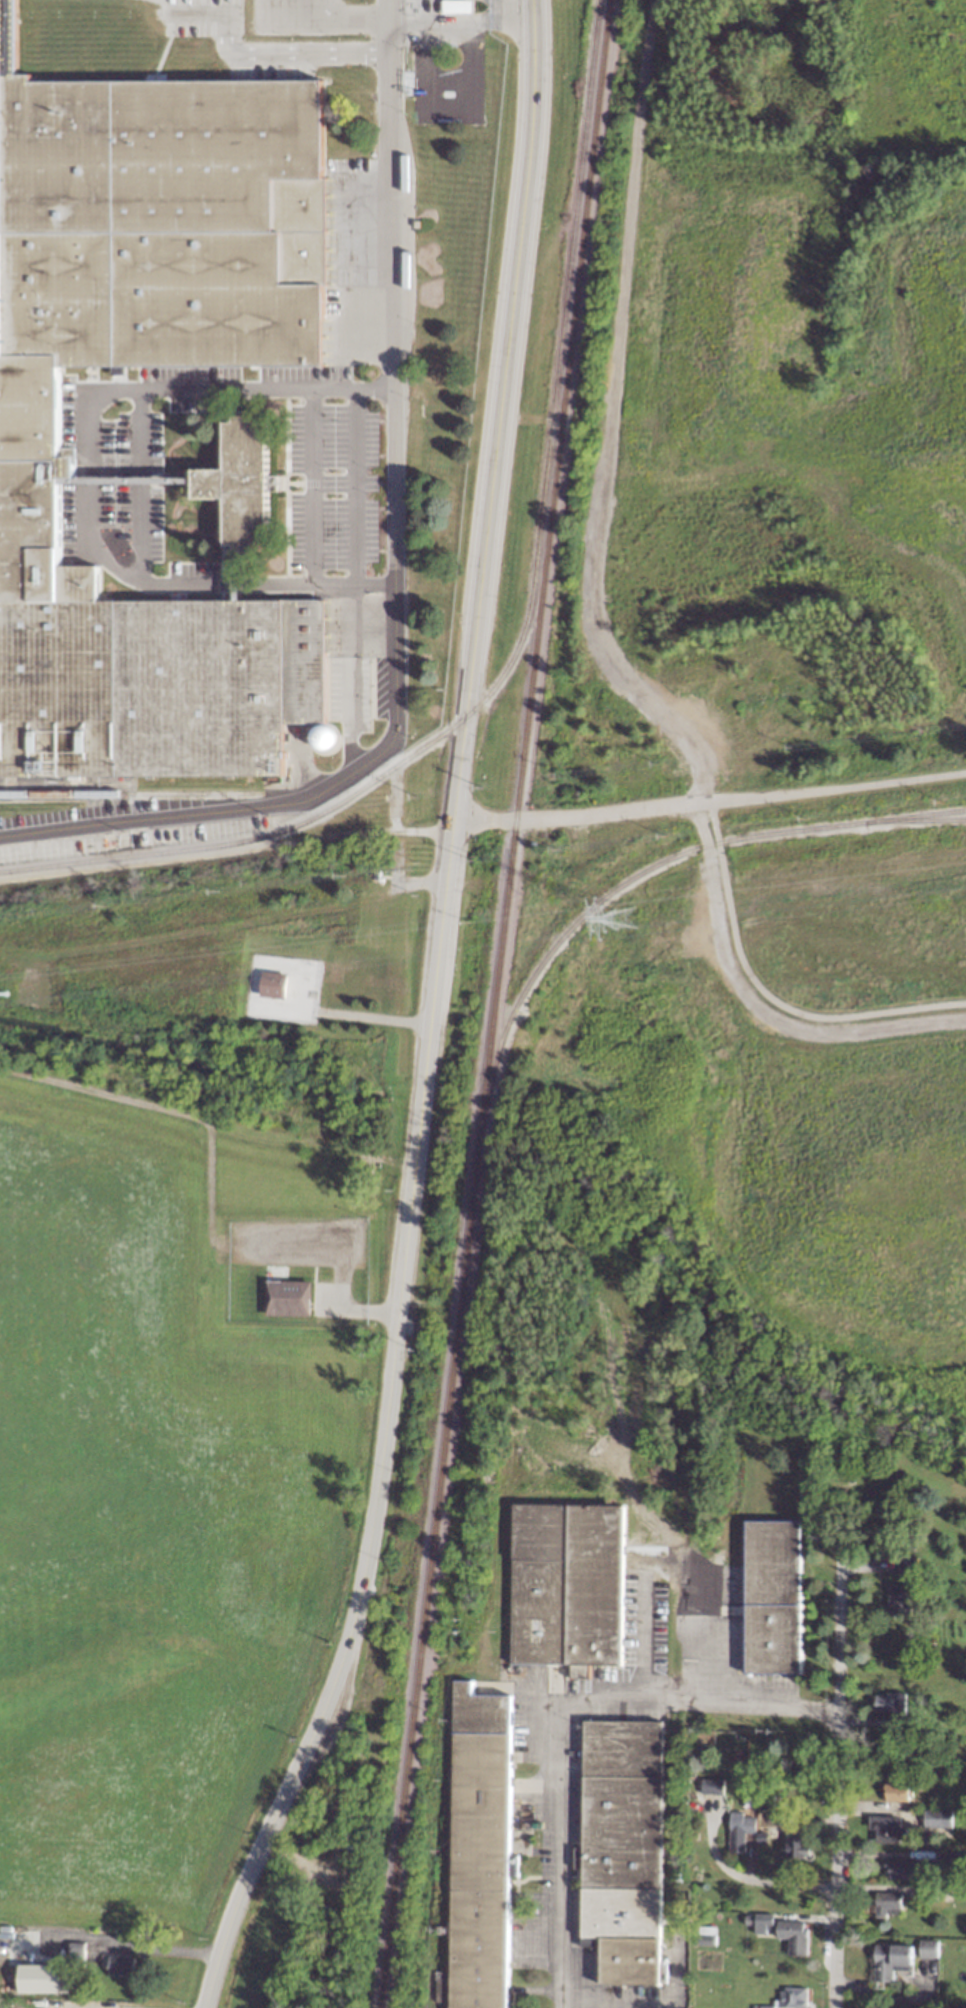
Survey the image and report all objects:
building: (456, 6)
road: (352, 18)
building: (152, 77)
road: (496, 412)
road: (610, 419)
building: (30, 425)
park: (774, 432)
road: (87, 479)
road: (120, 482)
building: (234, 484)
road: (140, 486)
road: (313, 487)
road: (355, 487)
road: (391, 575)
railway: (526, 616)
road: (350, 719)
water tower: (320, 739)
road: (296, 765)
road: (834, 784)
railway: (130, 793)
road: (577, 815)
railway: (914, 820)
road: (713, 822)
railway: (639, 877)
power tower: (622, 919)
building: (271, 984)
railway: (493, 1003)
road: (756, 1006)
road: (784, 1006)
park: (788, 1118)
building: (287, 1298)
road: (386, 1429)
building: (539, 1532)
crop: (147, 1536)
building: (774, 1562)
building: (907, 1565)
building: (594, 1587)
building: (900, 1600)
building: (538, 1611)
building: (773, 1638)
building: (890, 1702)
road: (553, 1711)
building: (712, 1786)
road: (839, 1789)
building: (897, 1792)
building: (937, 1818)
building: (888, 1829)
building: (739, 1830)
building: (797, 1847)
building: (479, 1848)
building: (622, 1849)
building: (903, 1869)
road: (779, 1884)
building: (888, 1904)
building: (784, 1932)
building: (927, 1948)
road: (158, 1950)
building: (76, 1951)
building: (890, 1961)
building: (121, 1965)
building: (42, 1979)
building: (792, 1997)
building: (765, 2006)
building: (960, 2006)

